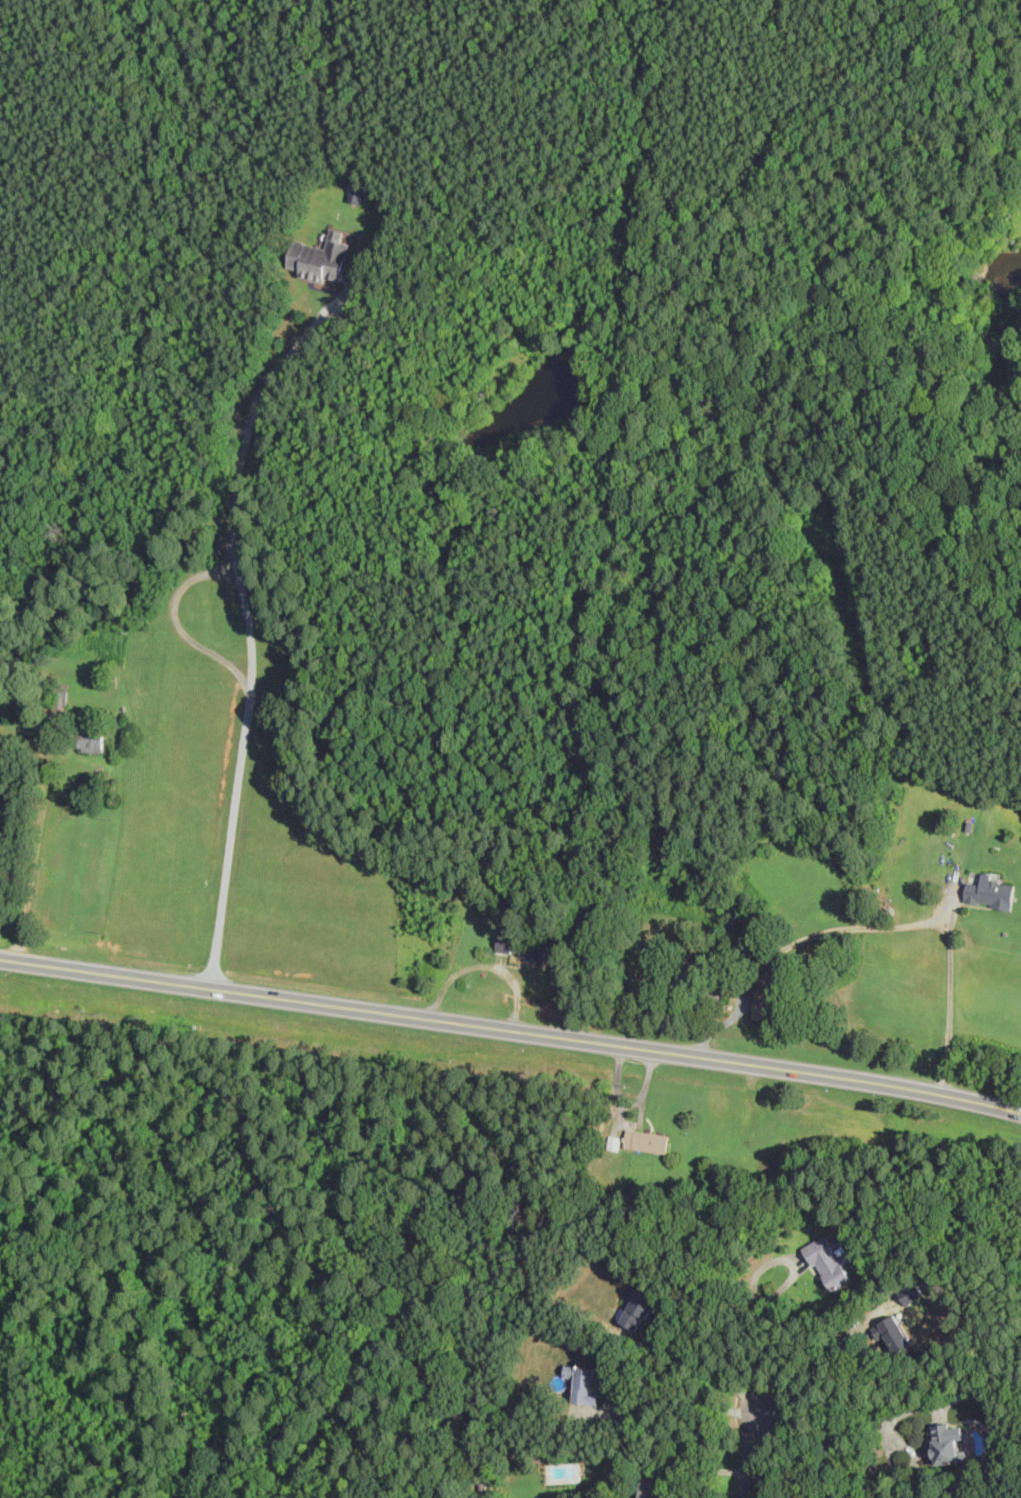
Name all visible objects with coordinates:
park: (828, 138)
road: (357, 249)
road: (896, 256)
building: (319, 258)
road: (325, 289)
road: (306, 333)
road: (181, 628)
road: (251, 690)
building: (58, 701)
building: (86, 736)
road: (38, 853)
building: (990, 893)
road: (973, 904)
road: (795, 943)
building: (527, 948)
building: (737, 957)
road: (502, 960)
road: (512, 960)
road: (487, 966)
road: (951, 988)
road: (717, 995)
building: (764, 1004)
road: (511, 1029)
road: (645, 1090)
road: (621, 1110)
road: (651, 1121)
road: (628, 1124)
road: (632, 1128)
building: (646, 1142)
building: (613, 1143)
building: (830, 1262)
building: (639, 1305)
road: (761, 1326)
building: (892, 1332)
road: (702, 1361)
road: (825, 1364)
building: (585, 1383)
road: (676, 1396)
building: (946, 1442)
road: (821, 1447)
road: (747, 1450)
road: (699, 1472)
building: (649, 1489)

